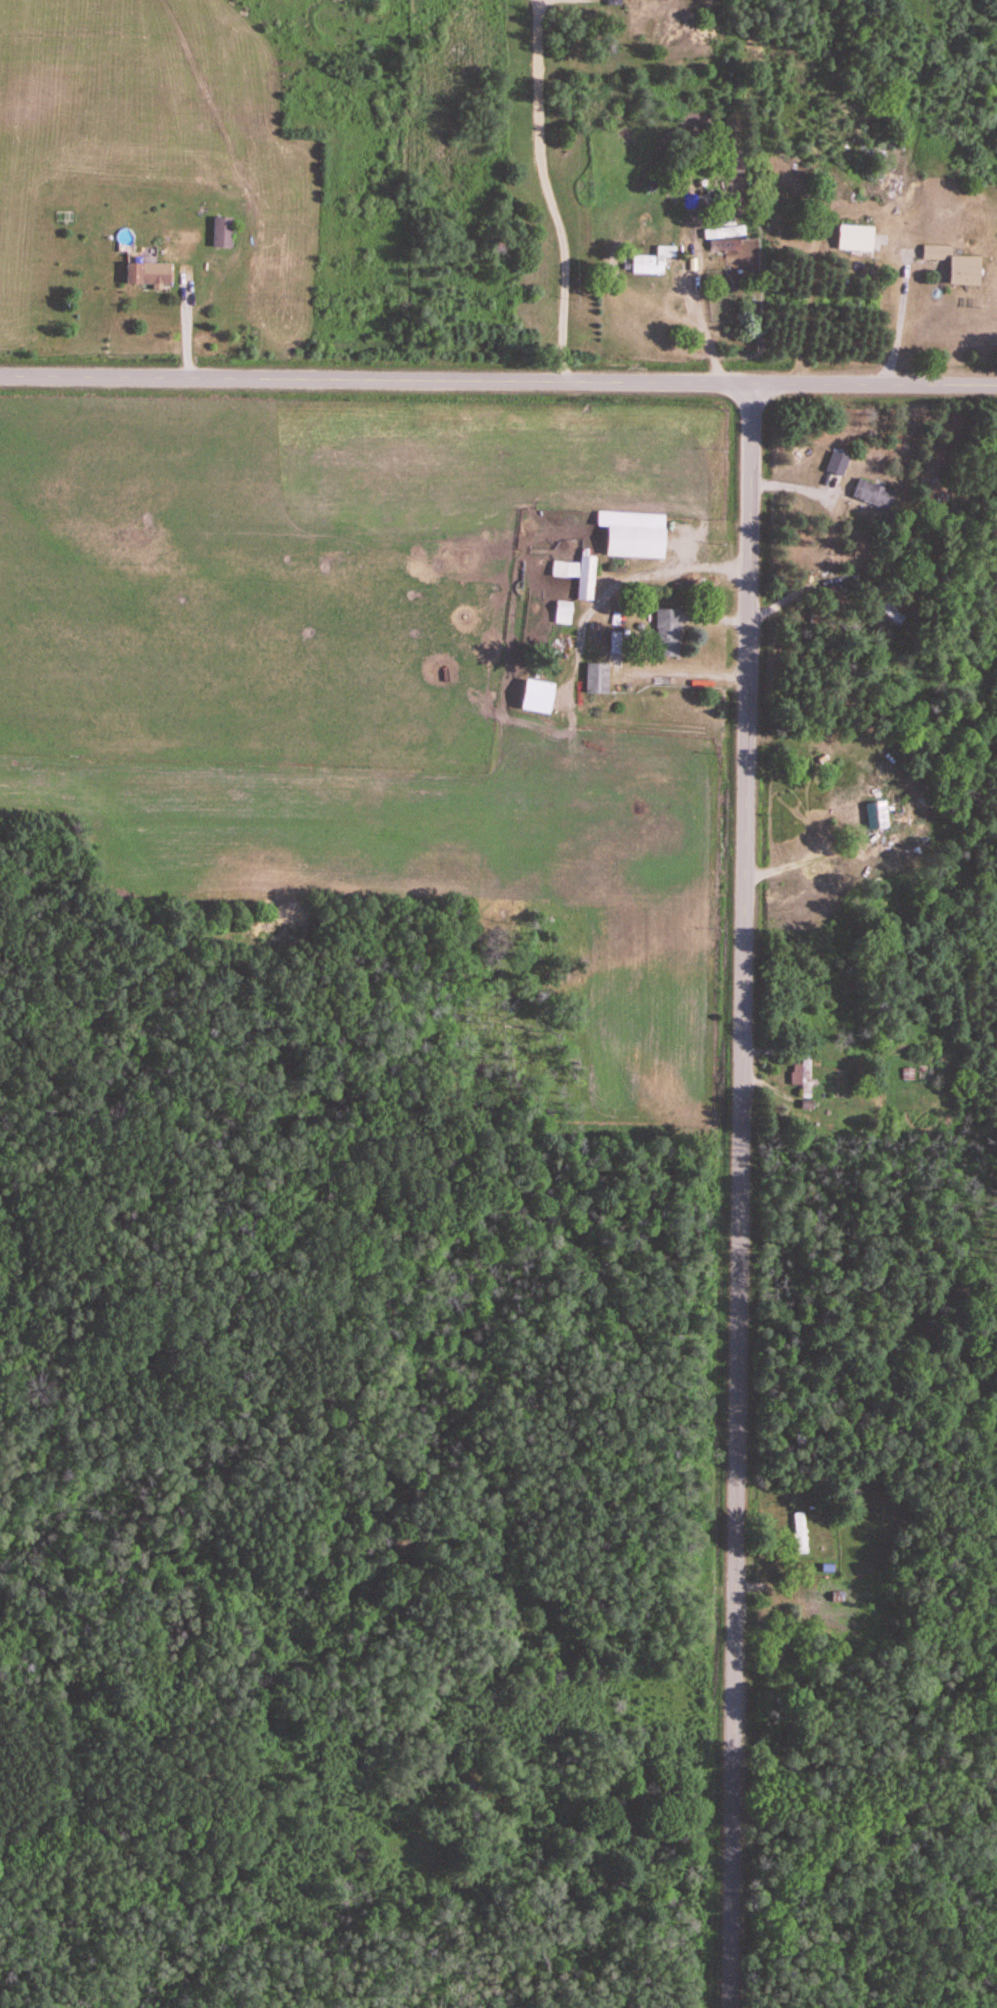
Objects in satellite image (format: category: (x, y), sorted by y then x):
road: (542, 191)
building: (221, 232)
building: (723, 233)
building: (855, 238)
building: (652, 262)
building: (953, 265)
building: (145, 271)
road: (808, 308)
road: (894, 317)
road: (498, 381)
building: (837, 464)
building: (872, 494)
building: (631, 534)
building: (577, 574)
building: (886, 603)
building: (562, 613)
building: (667, 634)
building: (614, 643)
building: (597, 679)
building: (535, 697)
building: (875, 816)
building: (801, 1076)
road: (739, 1196)
building: (799, 1533)

